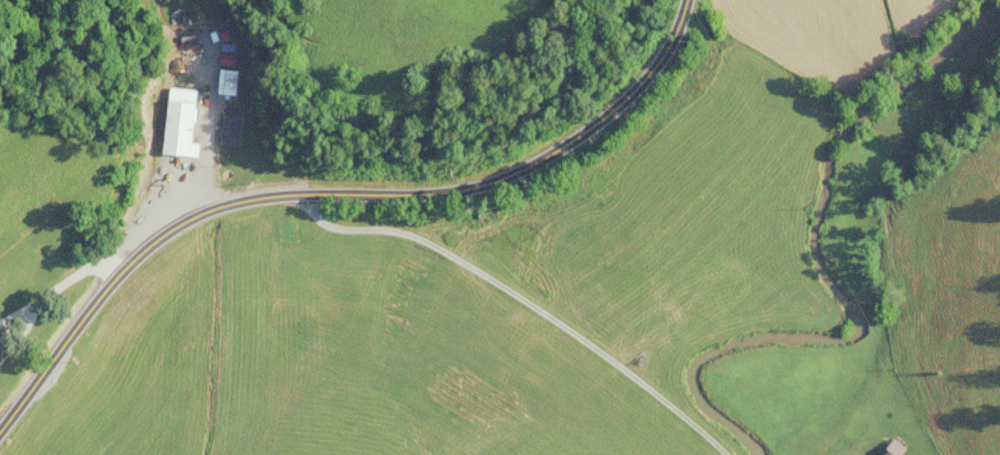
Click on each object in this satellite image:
building: (220, 81)
building: (174, 122)
road: (333, 192)
building: (280, 232)
road: (521, 297)
building: (883, 451)

